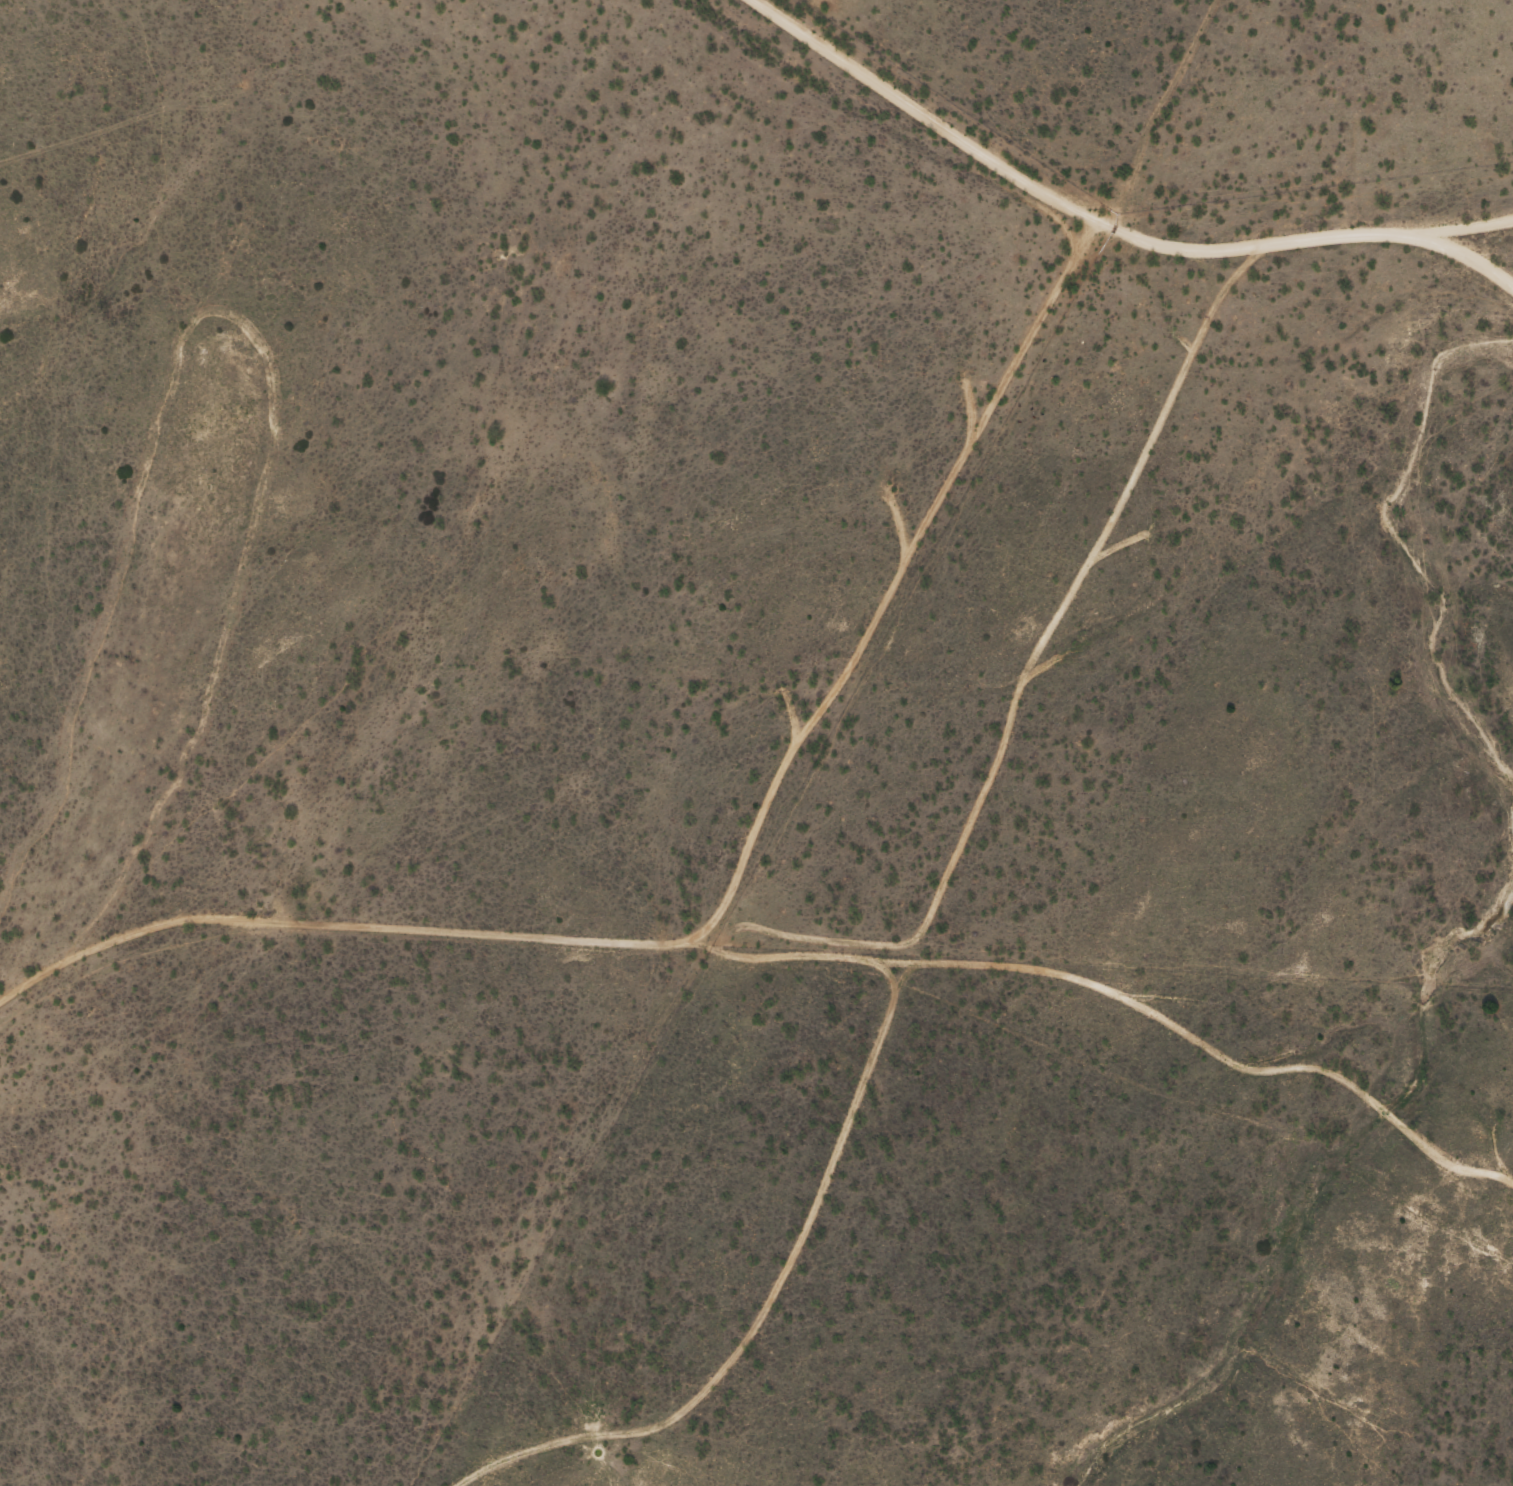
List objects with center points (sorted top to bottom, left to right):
road: (1055, 236)
road: (1504, 271)

